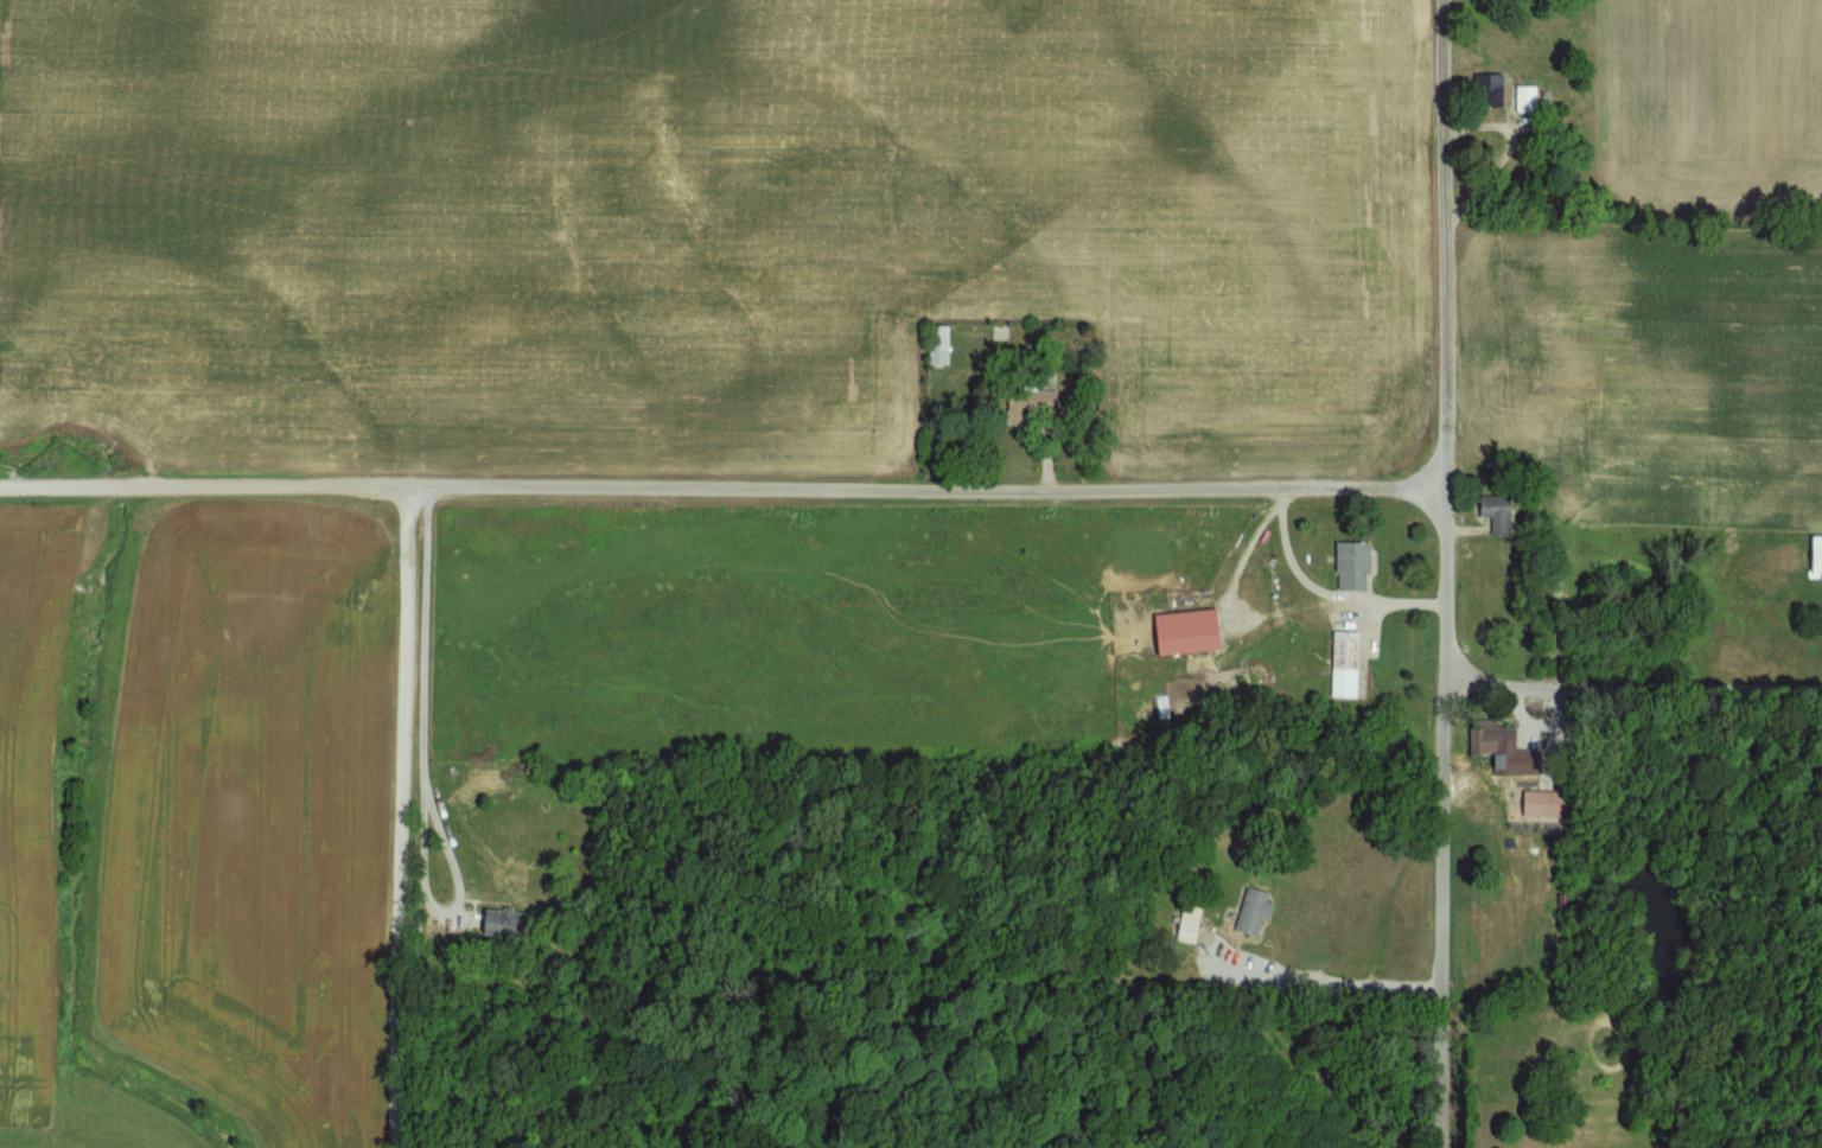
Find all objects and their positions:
building: (1493, 95)
building: (1531, 101)
building: (945, 346)
building: (1038, 407)
road: (722, 485)
building: (1503, 515)
building: (1820, 555)
building: (1358, 567)
road: (1446, 574)
road: (1324, 594)
building: (1195, 632)
building: (1351, 665)
road: (1633, 689)
road: (477, 690)
building: (1497, 739)
building: (1550, 805)
road: (401, 815)
building: (1260, 911)
building: (509, 924)
building: (1193, 931)
road: (1326, 982)

